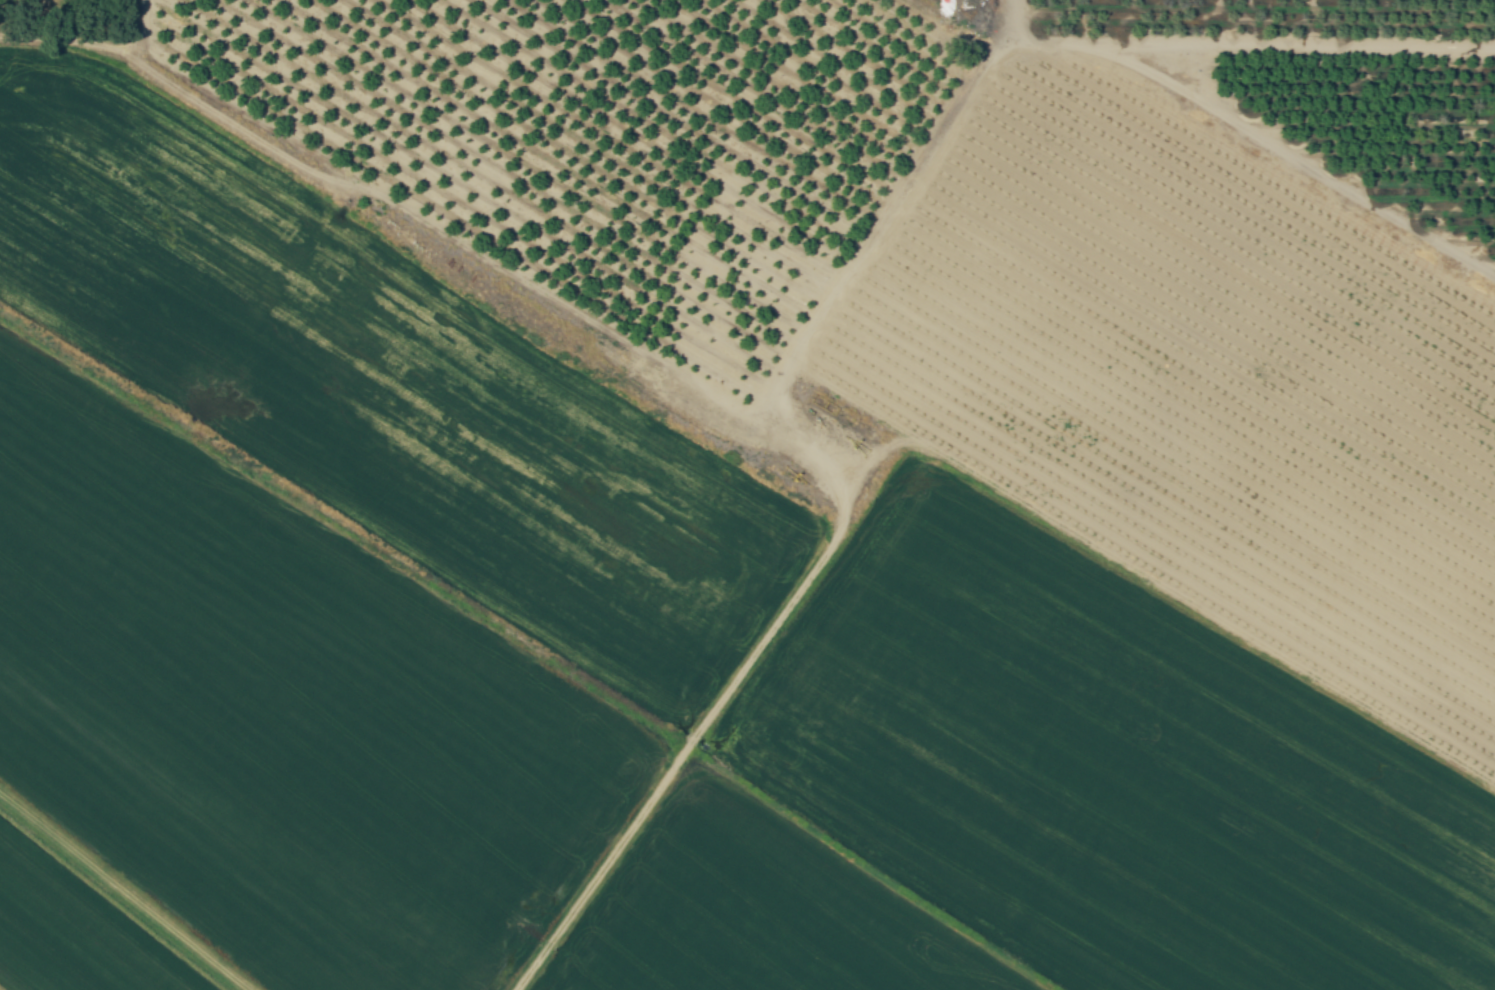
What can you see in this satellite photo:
road: (1242, 45)

